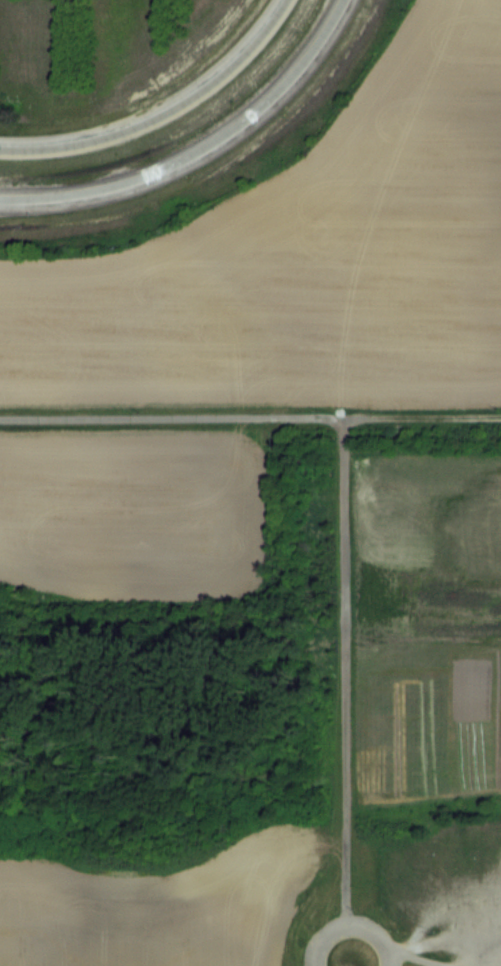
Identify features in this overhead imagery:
road: (163, 114)
road: (200, 149)
crop: (308, 253)
road: (172, 417)
road: (343, 594)
crop: (157, 907)
road: (348, 926)
road: (409, 959)

